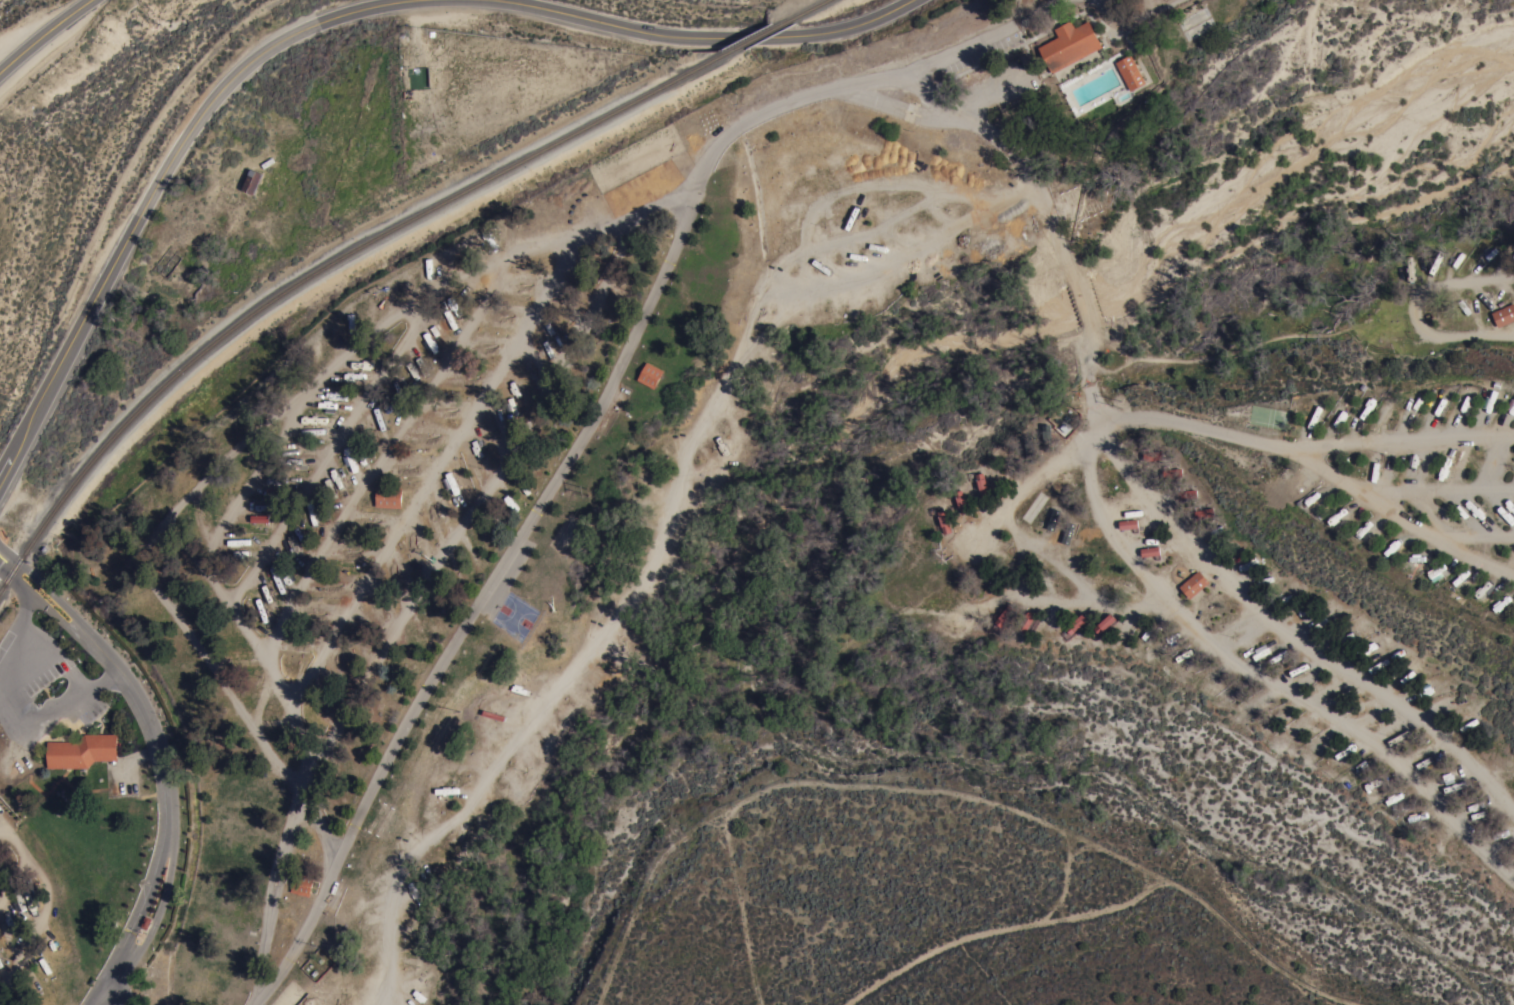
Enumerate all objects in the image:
railway: (814, 7)
road: (335, 18)
railway: (764, 34)
road: (43, 39)
building: (1069, 45)
building: (1130, 73)
railway: (587, 128)
road: (1015, 157)
building: (252, 181)
road: (1081, 304)
building: (1504, 315)
railway: (191, 363)
building: (650, 375)
road: (1092, 376)
road: (593, 417)
building: (1047, 438)
road: (1308, 447)
road: (241, 449)
building: (1029, 450)
road: (386, 453)
building: (1151, 456)
road: (327, 457)
road: (437, 473)
building: (1171, 473)
building: (982, 485)
road: (1438, 490)
building: (1186, 494)
building: (388, 497)
building: (961, 502)
building: (1204, 514)
road: (1403, 517)
building: (256, 518)
building: (1052, 519)
building: (944, 522)
building: (1128, 525)
building: (1067, 533)
road: (1473, 534)
road: (1037, 547)
building: (1150, 552)
road: (213, 577)
building: (1194, 585)
road: (416, 596)
road: (20, 610)
road: (72, 616)
building: (1004, 616)
park: (514, 619)
building: (1026, 622)
building: (1104, 623)
building: (1076, 624)
road: (1295, 627)
road: (9, 653)
road: (57, 655)
road: (1263, 670)
road: (102, 681)
road: (145, 716)
road: (42, 719)
building: (81, 752)
building: (302, 884)
road: (1, 905)
road: (138, 908)
road: (158, 916)
road: (36, 950)
road: (105, 997)
road: (117, 997)

